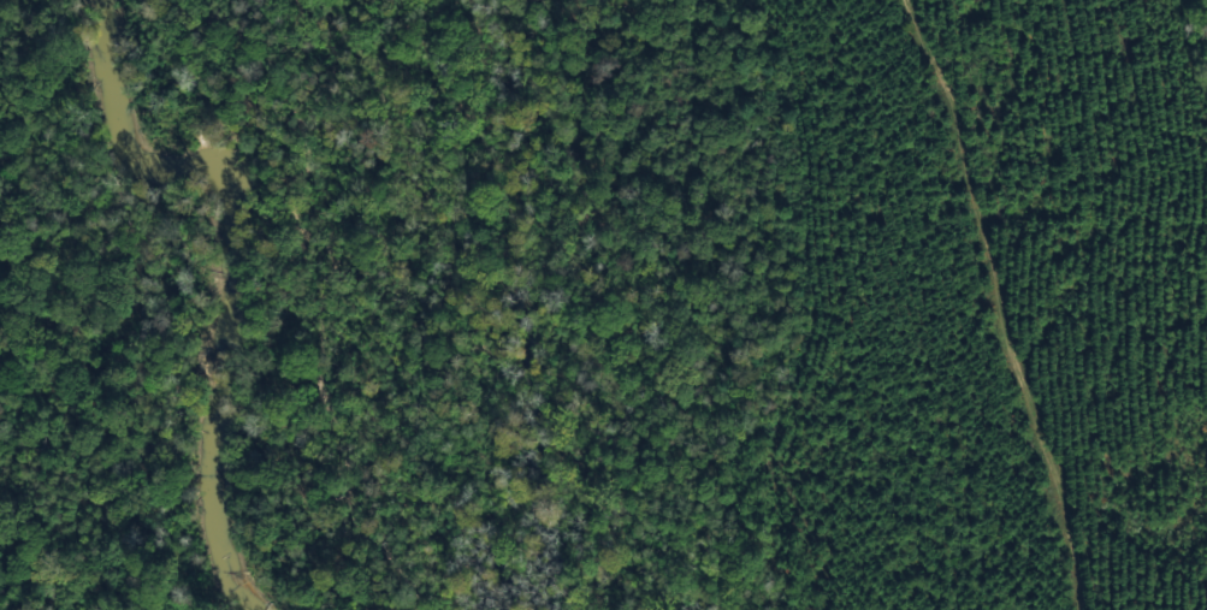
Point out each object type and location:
road: (988, 303)

